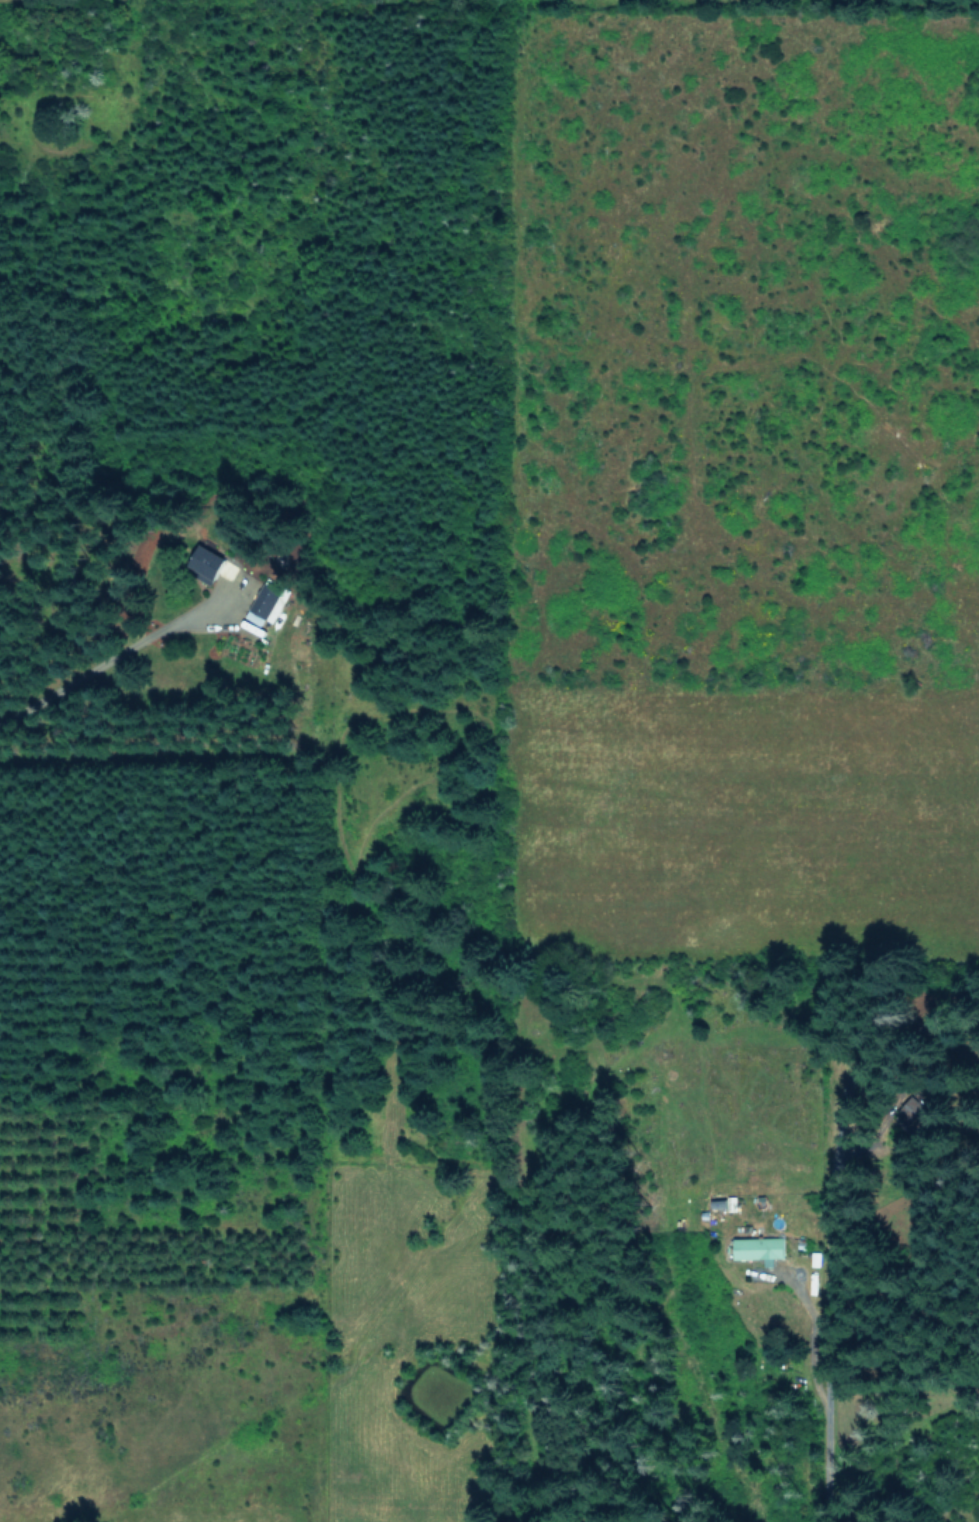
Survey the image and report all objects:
building: (209, 561)
building: (267, 601)
road: (112, 656)
building: (717, 1202)
building: (758, 1248)
road: (825, 1396)

